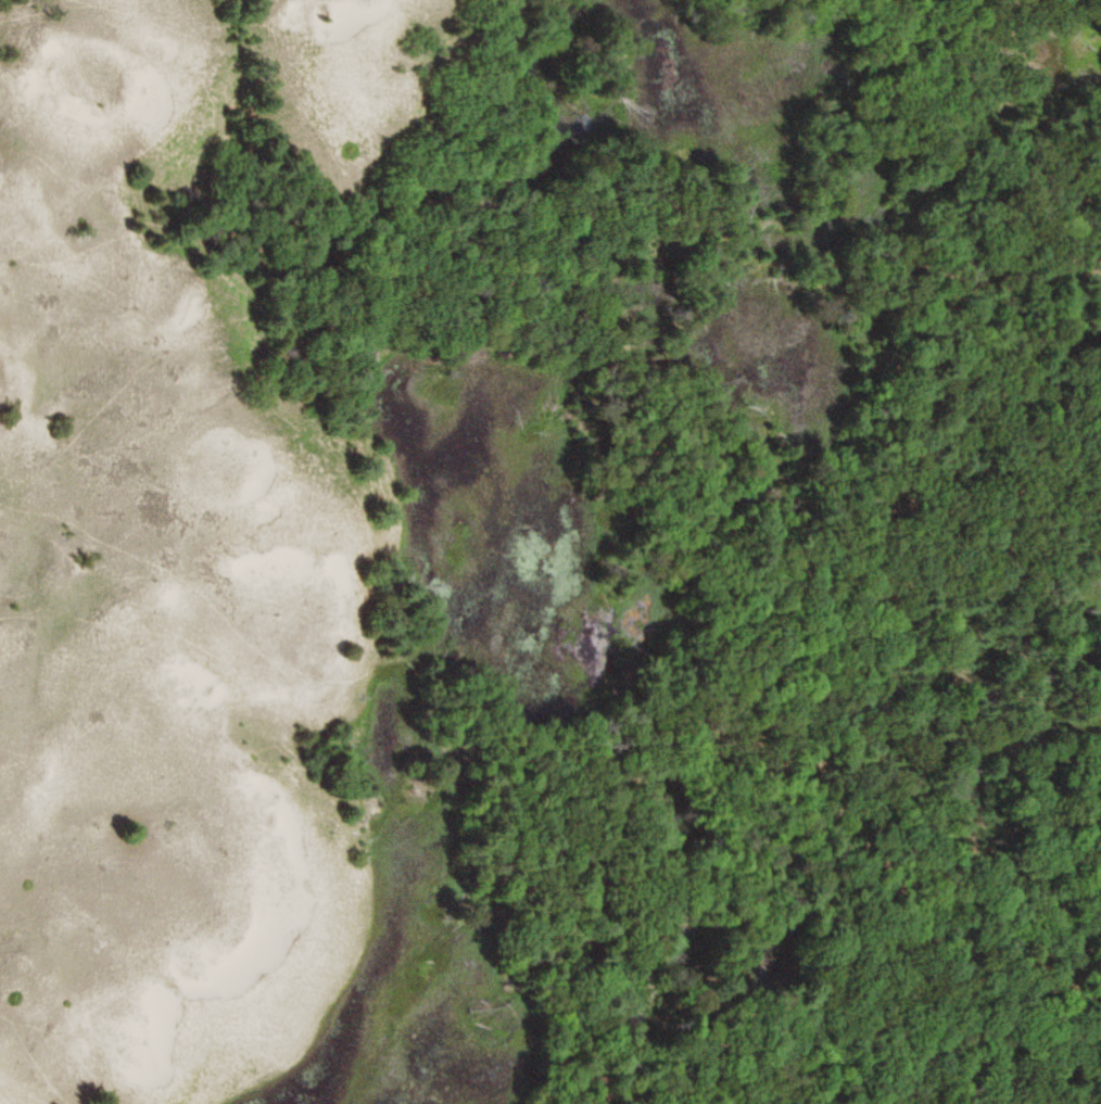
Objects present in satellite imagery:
park: (550, 551)
road: (896, 684)

